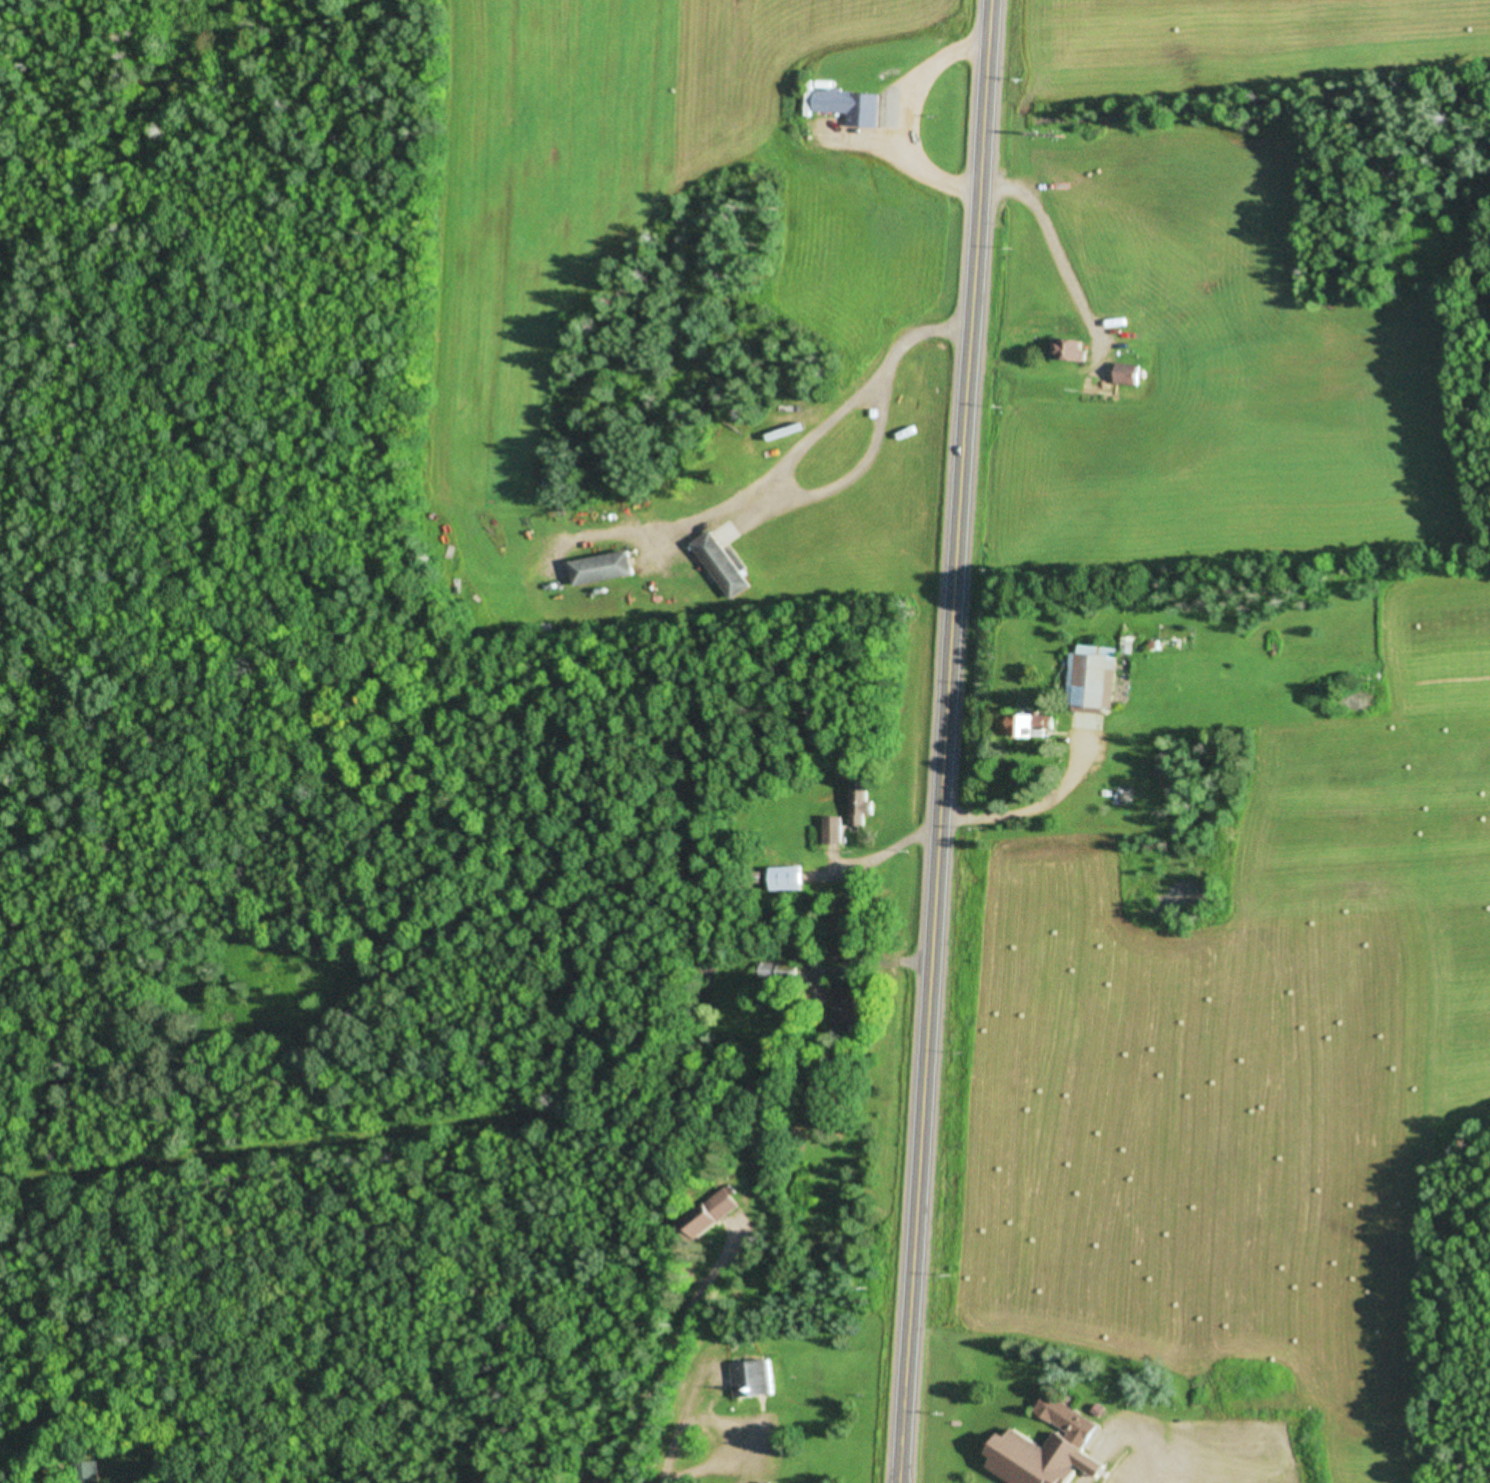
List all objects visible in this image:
building: (852, 107)
building: (1071, 350)
building: (1109, 352)
building: (1128, 374)
building: (723, 565)
building: (604, 568)
building: (1094, 677)
building: (1032, 726)
road: (942, 741)
building: (863, 803)
building: (834, 830)
building: (787, 878)
building: (844, 1006)
building: (714, 1213)
building: (756, 1377)
building: (1181, 1435)
building: (1052, 1449)

